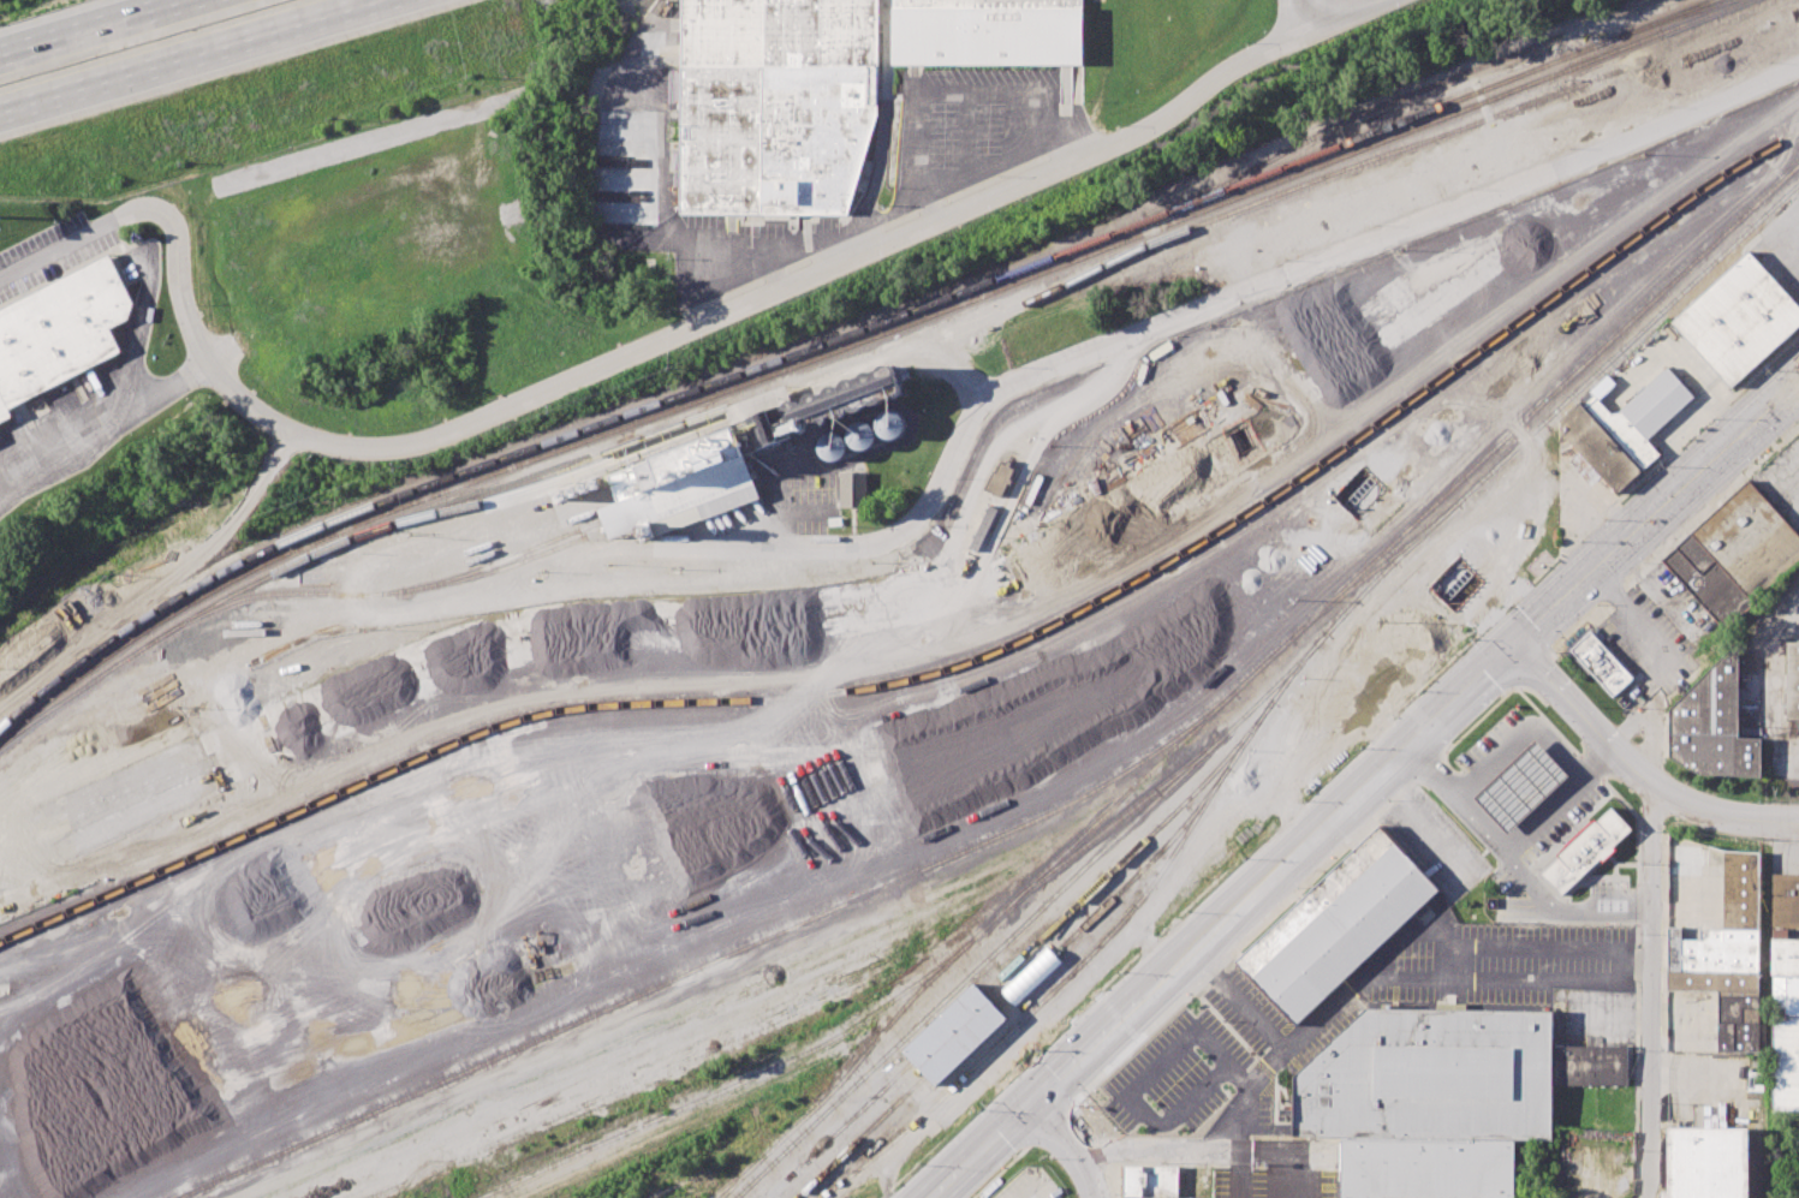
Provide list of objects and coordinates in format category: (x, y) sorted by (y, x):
road: (1304, 18)
road: (1344, 18)
railway: (1785, 22)
railway: (1651, 23)
railway: (1661, 23)
road: (109, 31)
building: (987, 32)
railway: (1652, 36)
road: (175, 50)
railway: (1580, 73)
road: (967, 95)
building: (776, 103)
railway: (1351, 118)
road: (1019, 125)
road: (1658, 129)
road: (996, 165)
road: (923, 190)
road: (1779, 226)
road: (64, 245)
road: (1344, 256)
building: (1738, 321)
road: (139, 329)
building: (60, 332)
road: (668, 340)
railway: (780, 358)
railway: (762, 376)
railway: (803, 387)
building: (1656, 404)
street lamp: (1712, 418)
road: (106, 433)
building: (1624, 434)
building: (1597, 448)
building: (744, 458)
street lamp: (1751, 463)
building: (1000, 478)
road: (1690, 483)
building: (852, 489)
railway: (446, 514)
street lamp: (1603, 518)
road: (918, 519)
road: (1672, 538)
building: (1750, 541)
flagpole: (1544, 555)
flagpole: (1537, 560)
road: (1553, 560)
railway: (510, 566)
flagpole: (1531, 567)
railway: (1375, 568)
building: (1706, 580)
road: (161, 582)
railway: (380, 594)
road: (1548, 619)
street lamp: (1470, 637)
railway: (1256, 649)
street lamp: (1554, 650)
traffic signals: (1514, 651)
railway: (1072, 652)
street lamp: (1554, 661)
building: (1601, 664)
railway: (953, 667)
road: (1533, 670)
railway: (1252, 673)
railway: (1291, 675)
building: (1793, 683)
railway: (1132, 691)
street lamp: (1597, 705)
road: (1567, 708)
building: (1712, 725)
road: (1517, 732)
parking lot: (1491, 735)
street lamp: (1453, 739)
street lamp: (1684, 781)
building: (1520, 789)
gas station: (1520, 789)
street lamp: (1305, 799)
street lamp: (1388, 799)
road: (1554, 799)
railway: (1059, 807)
road: (1704, 810)
parking lot: (1563, 823)
building: (1238, 830)
street lamp: (1640, 830)
railway: (1130, 854)
building: (1586, 854)
gas station: (1586, 854)
railway: (763, 856)
road: (1514, 865)
railway: (1146, 866)
parking lot: (1609, 887)
street lamp: (1297, 888)
railway: (680, 906)
street lamp: (1189, 910)
railway: (740, 914)
road: (1637, 916)
railway: (1030, 917)
road: (1222, 924)
building: (1335, 929)
building: (1716, 935)
road: (1381, 952)
road: (1634, 958)
road: (1449, 961)
street lamp: (1125, 970)
building: (1031, 977)
road: (1499, 981)
railway: (693, 982)
road: (1651, 993)
building: (1786, 996)
railway: (677, 1000)
railway: (1002, 1005)
railway: (675, 1014)
building: (953, 1037)
railway: (525, 1044)
street lamp: (1638, 1048)
street lamp: (1042, 1049)
road: (1217, 1050)
railway: (237, 1062)
railway: (731, 1086)
building: (1441, 1096)
building: (1161, 1098)
traffic signals: (1032, 1102)
street lamp: (1077, 1104)
street lamp: (978, 1108)
road: (1237, 1116)
railway: (839, 1131)
railway: (858, 1140)
road: (1068, 1146)
road: (1149, 1150)
street lamp: (1638, 1151)
road: (1264, 1152)
street lamp: (1042, 1157)
building: (1706, 1163)
road: (1238, 1175)
road: (1303, 1175)
railway: (737, 1178)
building: (1149, 1181)

